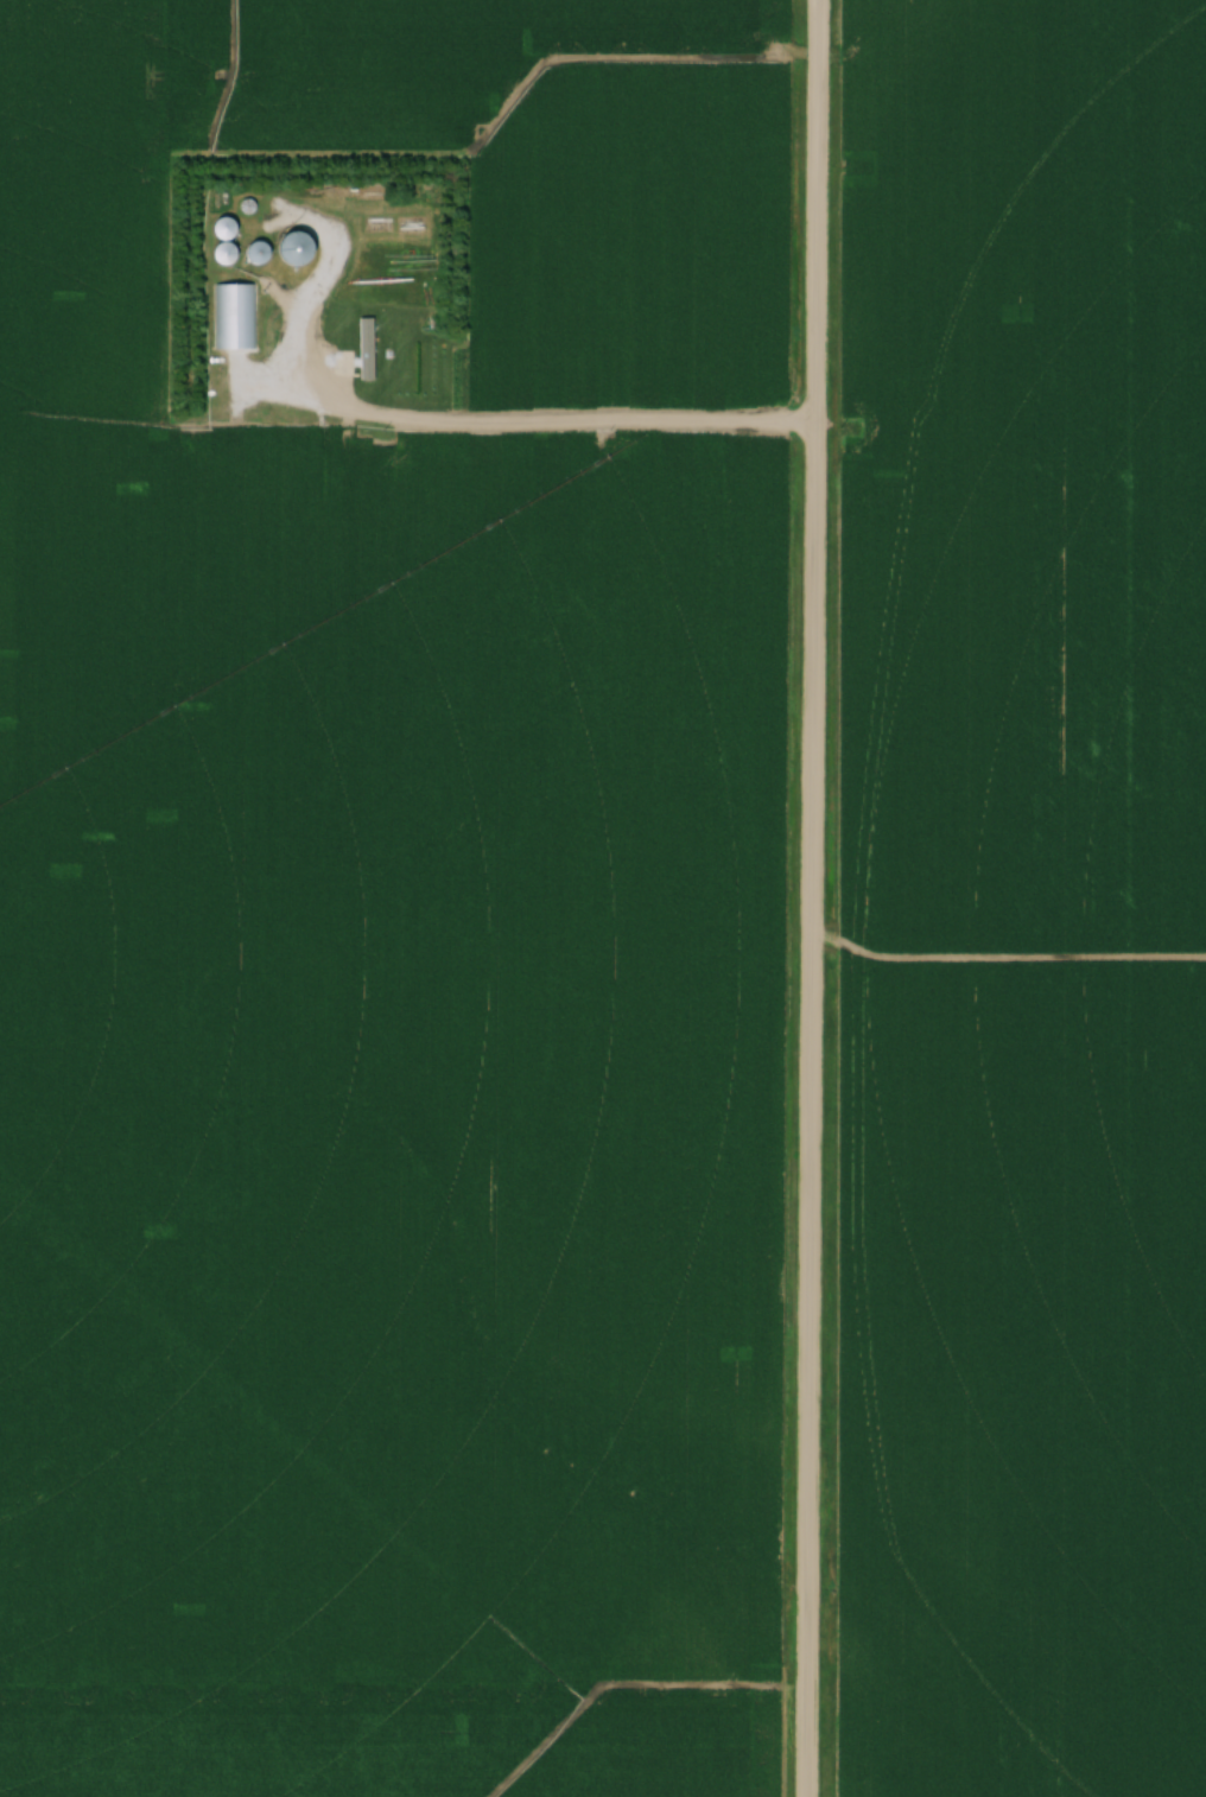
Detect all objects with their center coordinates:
building: (220, 229)
building: (285, 250)
building: (250, 252)
building: (221, 255)
building: (235, 317)
road: (567, 428)
road: (805, 898)

